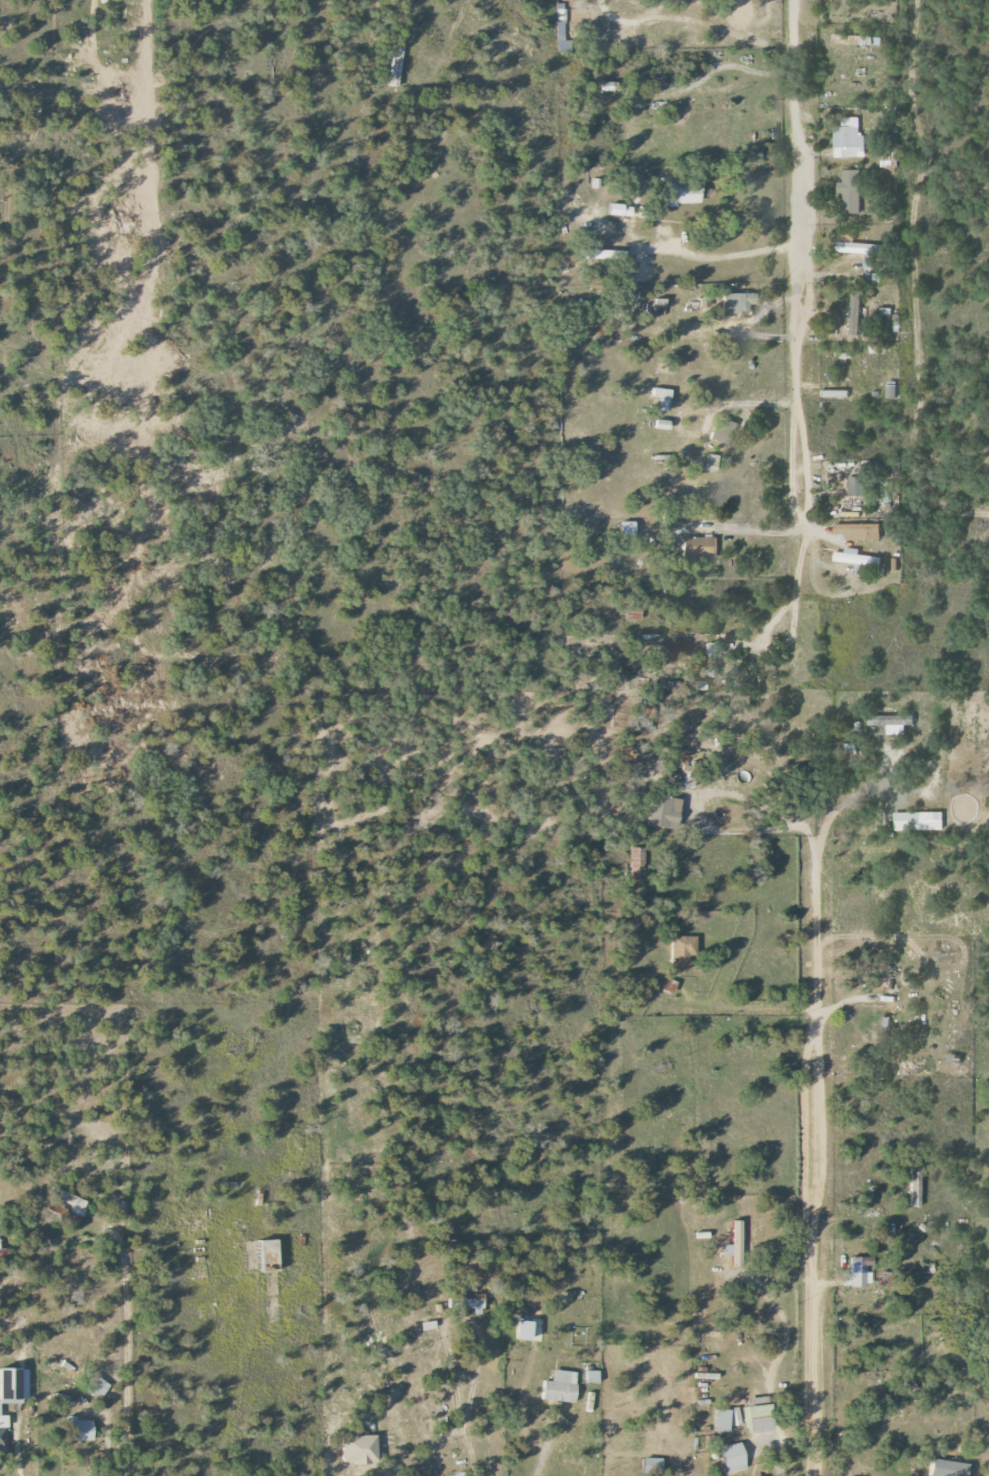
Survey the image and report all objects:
road: (630, 16)
building: (560, 22)
building: (858, 40)
building: (889, 58)
building: (608, 86)
building: (849, 139)
building: (852, 191)
building: (682, 194)
building: (619, 210)
building: (858, 246)
road: (738, 254)
road: (804, 268)
building: (875, 277)
building: (659, 303)
building: (738, 303)
road: (767, 306)
building: (857, 312)
building: (886, 313)
building: (892, 392)
building: (836, 394)
building: (661, 398)
building: (661, 425)
building: (724, 431)
building: (711, 463)
building: (856, 486)
building: (627, 529)
building: (860, 531)
building: (700, 548)
building: (859, 559)
road: (789, 634)
building: (660, 651)
building: (711, 660)
building: (895, 722)
building: (851, 748)
road: (845, 803)
building: (664, 811)
building: (920, 821)
building: (636, 865)
road: (815, 868)
building: (682, 951)
building: (669, 986)
road: (745, 1004)
building: (885, 1036)
building: (915, 1184)
building: (65, 1205)
building: (735, 1245)
building: (269, 1256)
road: (813, 1267)
building: (860, 1271)
building: (886, 1278)
building: (464, 1303)
building: (427, 1326)
building: (524, 1331)
road: (122, 1348)
building: (592, 1377)
building: (13, 1386)
building: (96, 1387)
building: (560, 1387)
road: (455, 1395)
building: (60, 1399)
building: (757, 1415)
building: (721, 1421)
building: (79, 1429)
building: (3, 1433)
road: (102, 1446)
building: (359, 1448)
road: (542, 1452)
road: (771, 1454)
building: (733, 1458)
building: (650, 1465)
road: (14, 1466)
building: (946, 1468)
building: (458, 1474)
road: (398, 1475)

